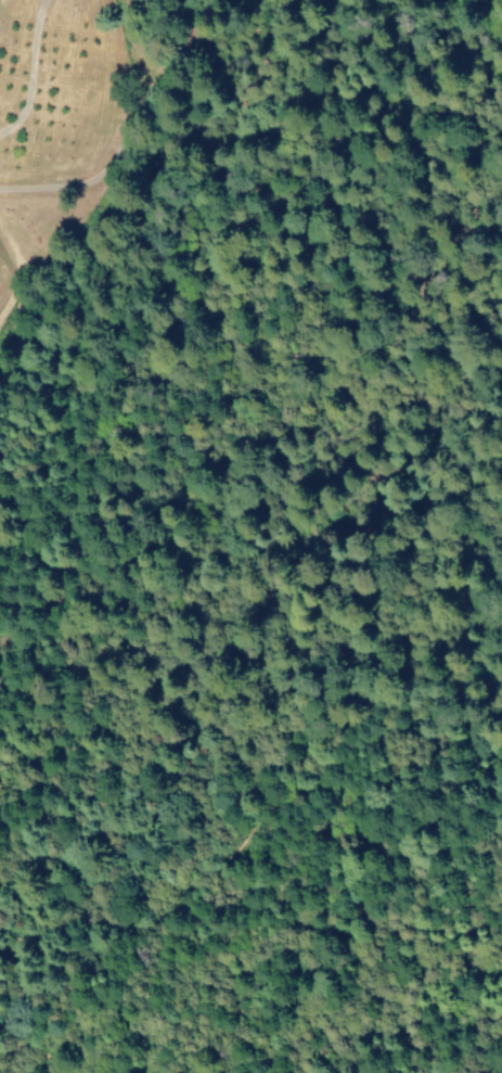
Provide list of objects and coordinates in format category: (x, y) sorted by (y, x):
road: (164, 608)

